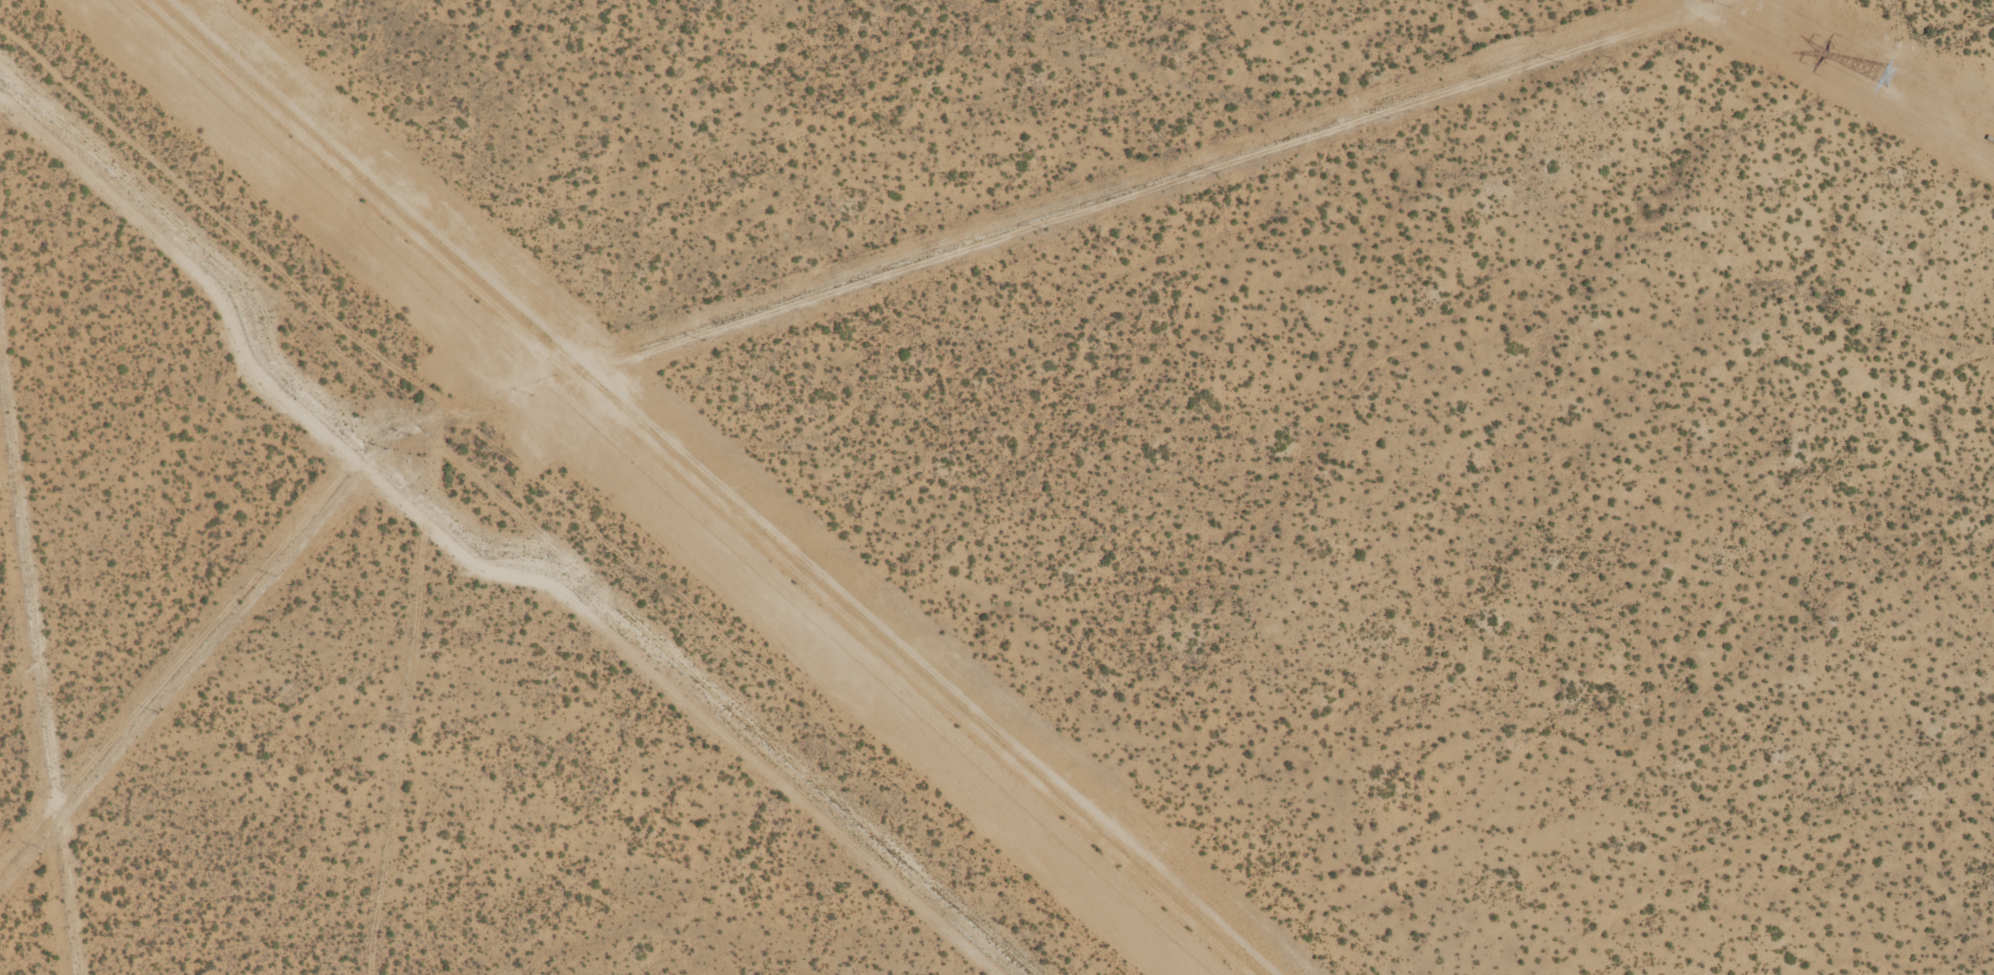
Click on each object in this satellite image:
power tower: (1888, 78)
road: (1215, 237)

